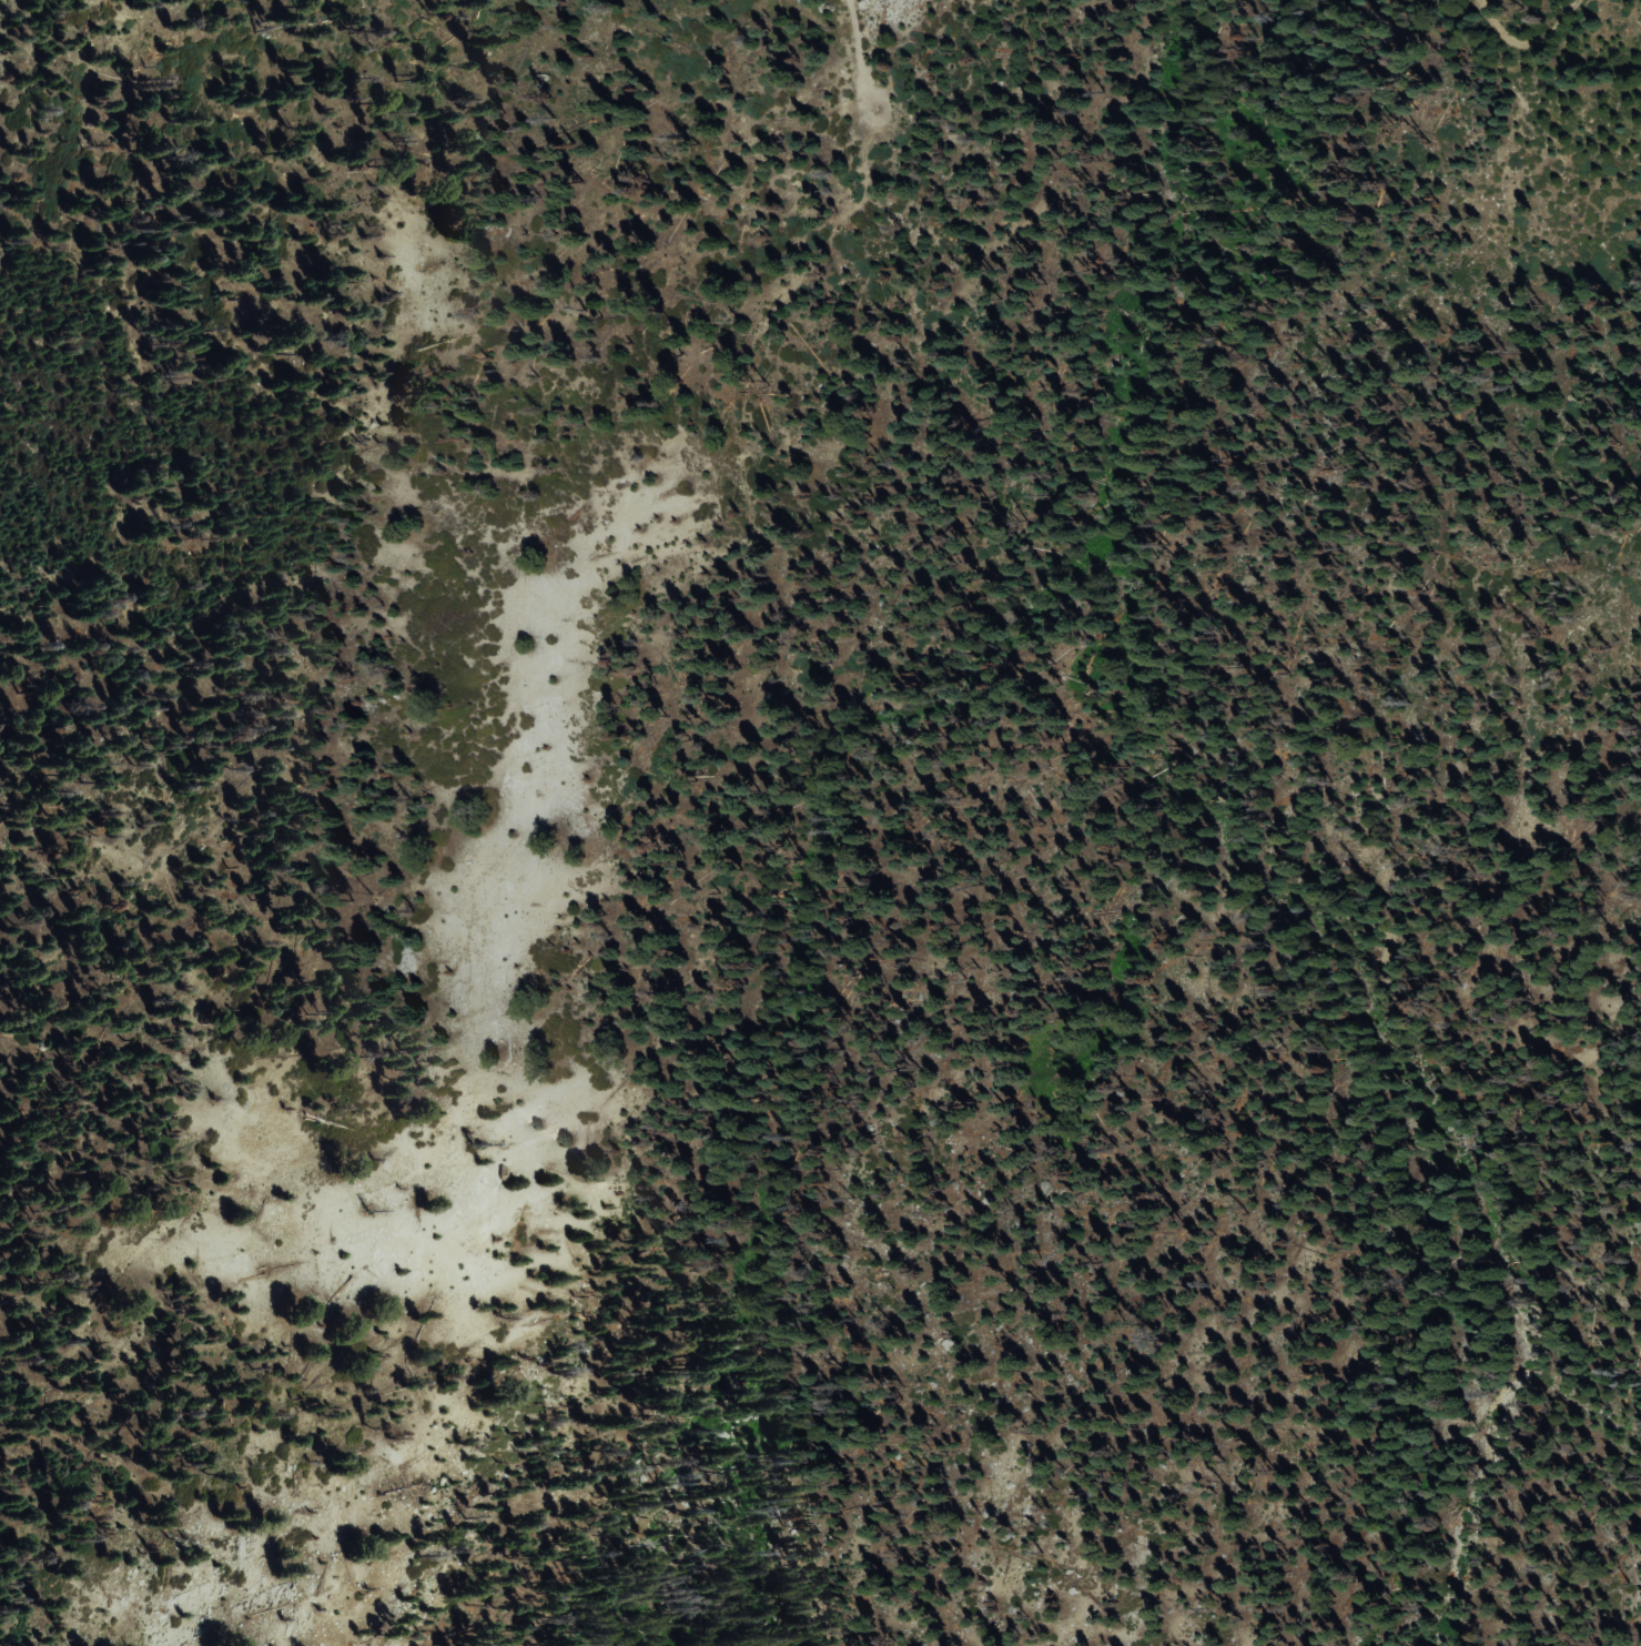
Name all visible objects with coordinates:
road: (1524, 34)
road: (854, 60)

